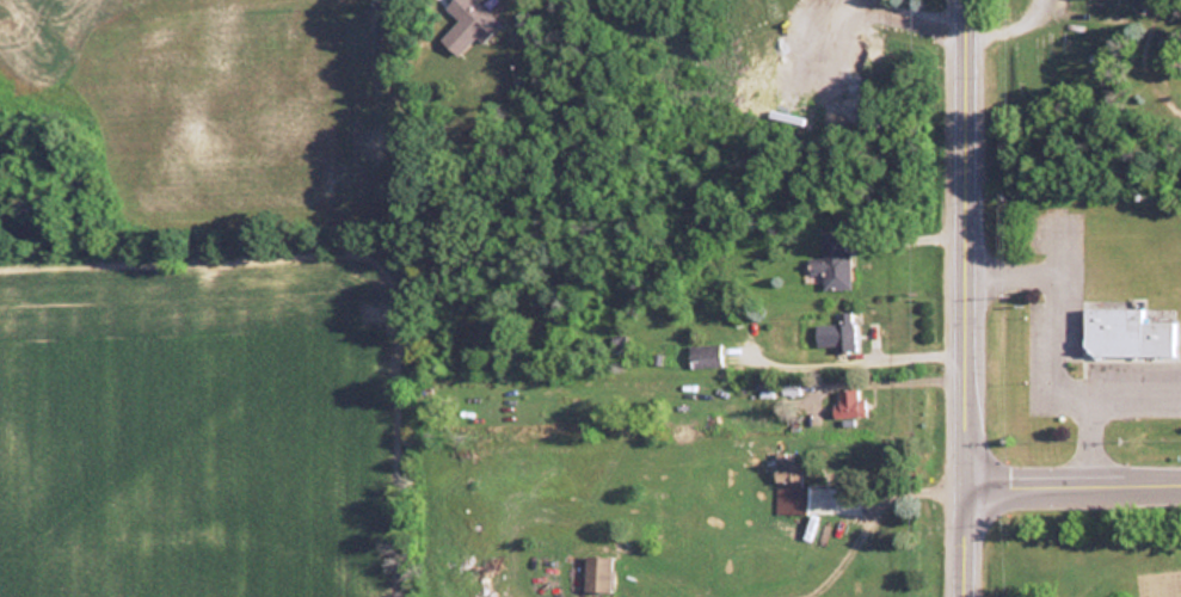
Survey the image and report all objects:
road: (948, 8)
building: (834, 261)
road: (967, 298)
building: (1122, 333)
building: (832, 336)
road: (1047, 352)
building: (702, 356)
road: (894, 357)
road: (900, 378)
building: (845, 405)
road: (1072, 478)
building: (786, 485)
building: (595, 574)

